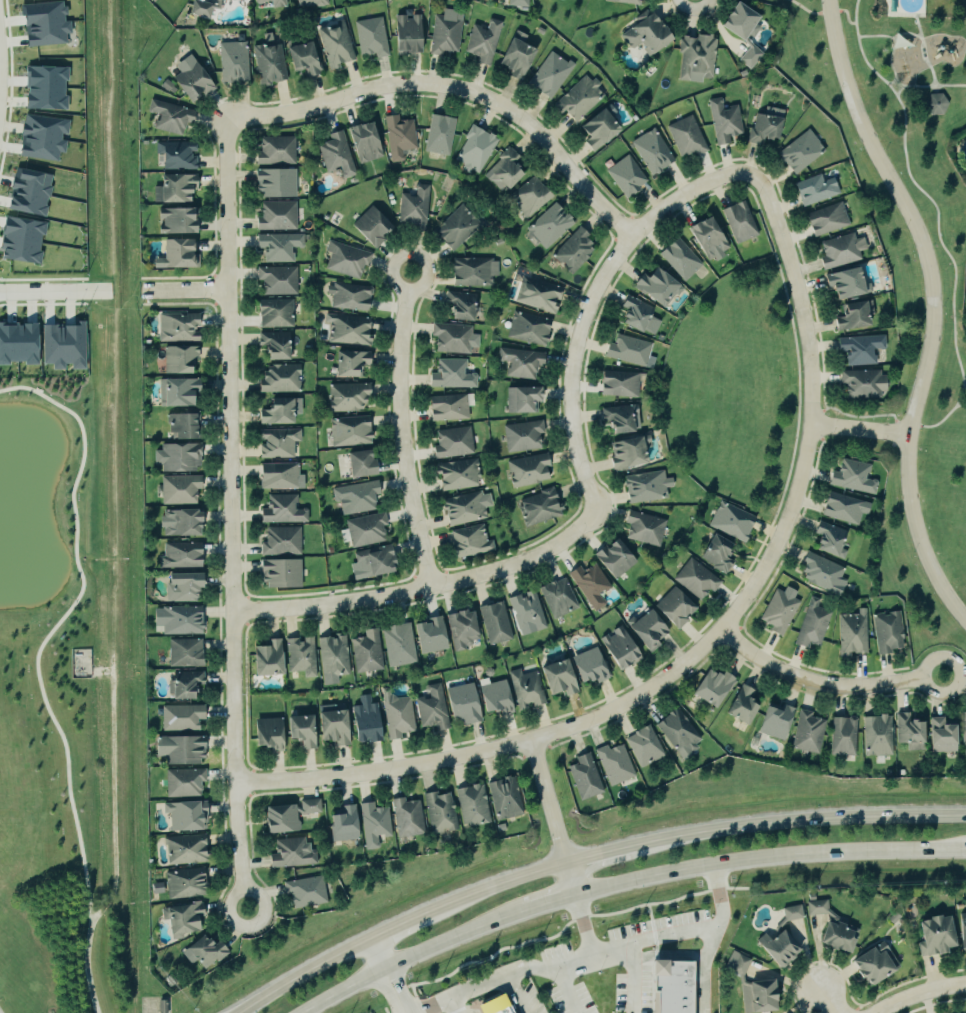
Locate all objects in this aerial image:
building: (241, 0)
building: (544, 0)
building: (623, 1)
building: (272, 2)
building: (309, 3)
building: (517, 3)
building: (203, 7)
road: (856, 11)
road: (830, 13)
road: (847, 17)
building: (735, 20)
building: (43, 24)
road: (919, 28)
road: (857, 30)
building: (404, 33)
building: (643, 34)
road: (907, 34)
building: (444, 35)
road: (876, 37)
building: (370, 38)
building: (482, 42)
building: (335, 45)
building: (514, 56)
building: (749, 57)
building: (302, 58)
building: (695, 58)
road: (890, 60)
road: (927, 60)
building: (268, 61)
building: (232, 62)
park: (909, 62)
road: (868, 64)
building: (549, 75)
building: (189, 80)
road: (891, 82)
road: (898, 83)
road: (933, 84)
road: (937, 84)
road: (953, 86)
road: (916, 87)
building: (43, 88)
road: (456, 88)
road: (937, 89)
road: (933, 90)
road: (893, 91)
road: (899, 92)
road: (936, 93)
building: (579, 98)
building: (929, 102)
building: (168, 117)
building: (722, 121)
building: (764, 126)
building: (596, 129)
building: (438, 134)
building: (41, 137)
building: (398, 137)
building: (686, 137)
building: (362, 142)
building: (475, 148)
building: (274, 151)
building: (652, 152)
building: (799, 152)
building: (334, 154)
building: (176, 155)
building: (503, 171)
building: (626, 176)
building: (274, 183)
building: (174, 187)
building: (814, 190)
building: (28, 192)
building: (529, 197)
building: (412, 208)
building: (276, 216)
building: (825, 220)
building: (175, 221)
building: (738, 221)
building: (549, 225)
building: (370, 227)
building: (455, 228)
building: (706, 238)
road: (939, 238)
building: (22, 240)
building: (277, 246)
building: (839, 250)
building: (572, 251)
building: (178, 254)
building: (345, 259)
building: (679, 259)
building: (472, 271)
building: (276, 280)
building: (842, 283)
building: (656, 287)
road: (186, 290)
road: (49, 292)
building: (537, 294)
building: (348, 295)
road: (592, 301)
building: (457, 305)
road: (934, 305)
building: (274, 313)
building: (637, 316)
building: (849, 316)
building: (178, 327)
building: (527, 328)
building: (348, 329)
building: (452, 339)
building: (18, 343)
building: (273, 344)
building: (64, 345)
building: (858, 349)
building: (628, 351)
building: (178, 359)
building: (520, 362)
building: (349, 363)
building: (450, 374)
building: (279, 378)
building: (618, 384)
building: (860, 384)
road: (965, 387)
building: (174, 392)
building: (347, 397)
road: (962, 397)
building: (520, 399)
road: (960, 405)
building: (446, 407)
building: (277, 410)
road: (940, 422)
building: (181, 426)
road: (402, 430)
road: (860, 430)
building: (349, 431)
building: (521, 436)
building: (277, 442)
building: (452, 443)
building: (626, 452)
building: (176, 457)
building: (359, 464)
building: (527, 470)
building: (457, 475)
building: (277, 476)
building: (851, 477)
building: (644, 486)
building: (178, 489)
building: (355, 497)
building: (538, 507)
building: (465, 508)
building: (842, 508)
building: (281, 509)
road: (115, 510)
road: (233, 514)
building: (730, 521)
building: (178, 523)
building: (643, 528)
building: (366, 530)
building: (827, 540)
building: (280, 541)
building: (468, 542)
building: (715, 554)
building: (179, 556)
building: (612, 559)
building: (373, 561)
building: (279, 574)
building: (821, 574)
building: (695, 579)
building: (588, 585)
building: (180, 587)
road: (428, 589)
building: (557, 598)
building: (524, 609)
building: (672, 609)
building: (777, 612)
building: (177, 620)
building: (494, 623)
building: (811, 625)
building: (460, 628)
building: (645, 631)
building: (886, 632)
building: (852, 633)
building: (427, 636)
road: (710, 641)
building: (397, 645)
building: (616, 648)
building: (365, 652)
building: (184, 653)
building: (300, 656)
building: (265, 658)
building: (332, 658)
building: (586, 667)
building: (556, 678)
building: (183, 684)
road: (827, 684)
building: (710, 688)
building: (525, 689)
building: (492, 698)
building: (460, 705)
building: (740, 705)
building: (430, 709)
building: (396, 715)
building: (180, 717)
building: (362, 721)
building: (774, 721)
building: (330, 725)
building: (299, 731)
building: (678, 732)
building: (908, 732)
building: (807, 733)
building: (267, 734)
building: (962, 734)
building: (877, 736)
building: (939, 736)
building: (843, 737)
building: (644, 746)
building: (178, 750)
building: (614, 764)
building: (584, 777)
building: (182, 782)
building: (501, 798)
road: (549, 800)
building: (470, 804)
building: (438, 812)
building: (183, 816)
building: (286, 816)
building: (406, 817)
road: (796, 820)
building: (342, 825)
building: (374, 825)
building: (184, 850)
road: (598, 852)
road: (769, 852)
building: (289, 853)
road: (571, 876)
building: (182, 883)
road: (496, 885)
building: (304, 892)
road: (547, 898)
building: (815, 908)
building: (790, 913)
building: (182, 919)
road: (584, 924)
road: (399, 928)
building: (961, 932)
road: (674, 934)
building: (934, 936)
building: (836, 937)
building: (776, 948)
road: (613, 950)
building: (201, 953)
road: (377, 954)
road: (413, 954)
building: (735, 965)
building: (872, 965)
road: (705, 967)
road: (518, 969)
road: (305, 975)
building: (667, 986)
road: (394, 990)
road: (569, 990)
road: (921, 992)
road: (519, 993)
building: (756, 997)
road: (830, 1003)
building: (491, 1006)
road: (436, 1007)
road: (451, 1007)

